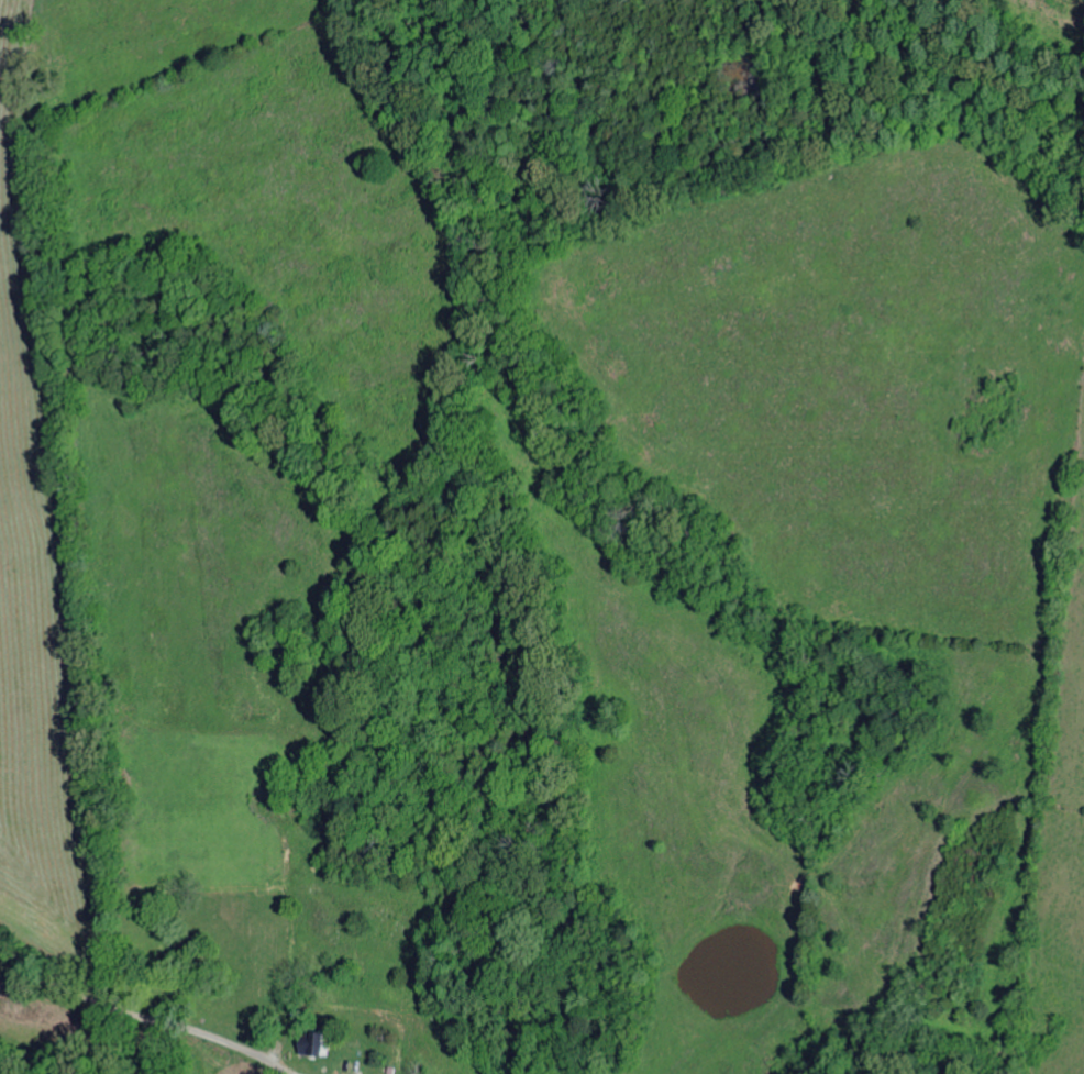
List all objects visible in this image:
road: (142, 1019)
building: (316, 1043)

